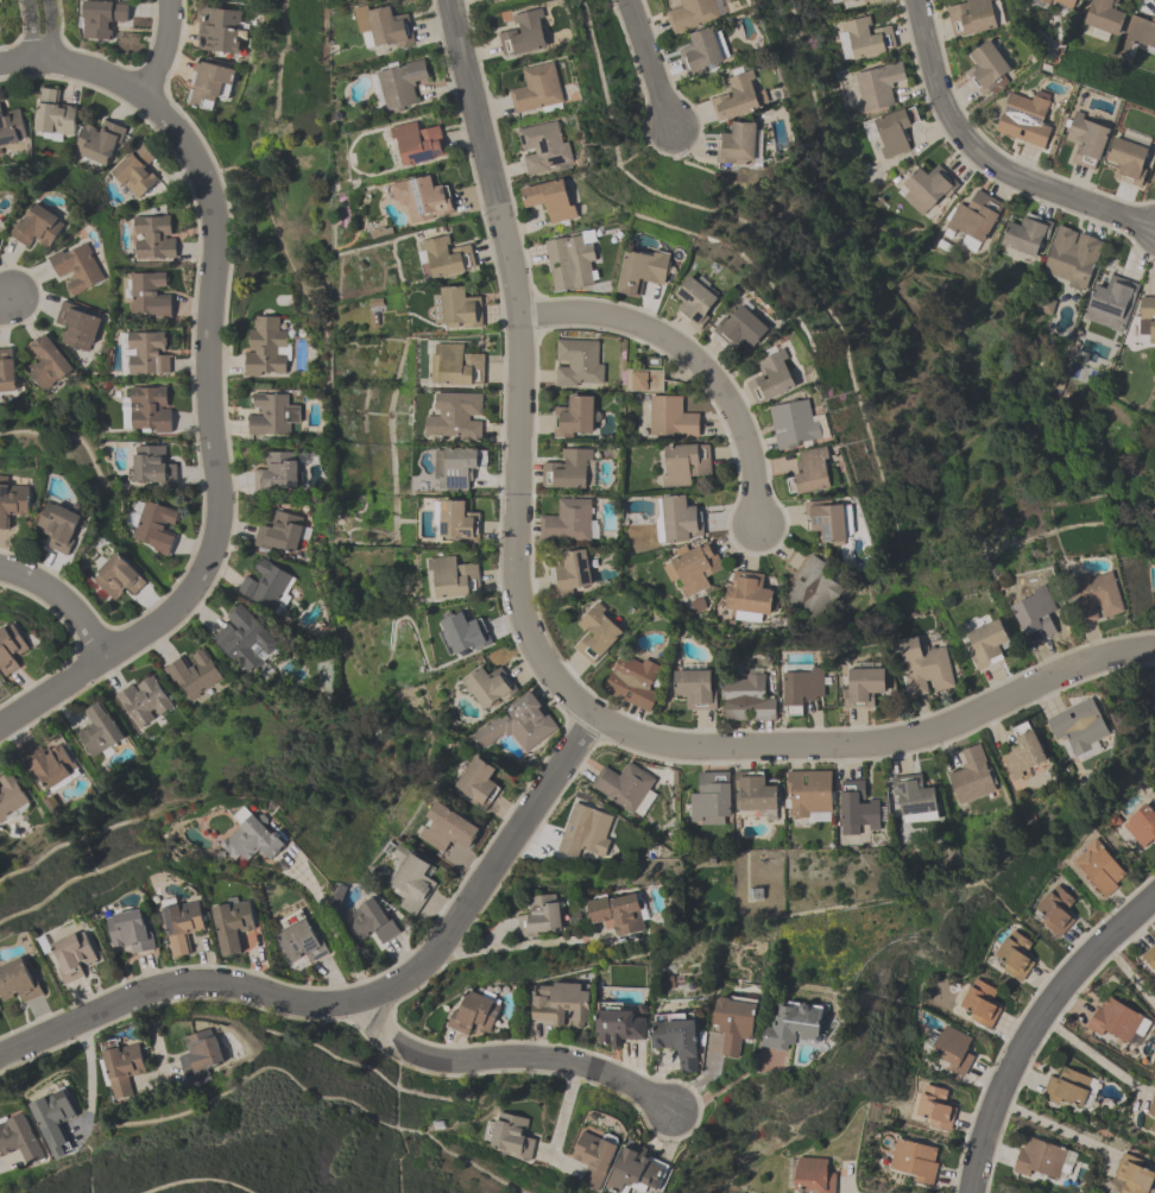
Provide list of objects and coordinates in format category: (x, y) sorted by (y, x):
building: (493, 0)
building: (837, 0)
building: (865, 0)
building: (1043, 1)
building: (1065, 2)
building: (692, 14)
building: (970, 17)
building: (1102, 17)
building: (101, 19)
building: (384, 26)
building: (219, 32)
building: (1137, 33)
building: (523, 34)
building: (863, 38)
road: (163, 50)
building: (700, 53)
road: (20, 59)
road: (648, 63)
building: (986, 70)
building: (877, 84)
building: (208, 86)
building: (399, 86)
building: (536, 89)
building: (734, 99)
building: (52, 113)
building: (1024, 118)
building: (11, 126)
building: (894, 131)
building: (97, 140)
building: (417, 140)
building: (1086, 140)
building: (737, 145)
building: (543, 147)
road: (989, 159)
building: (1125, 162)
building: (134, 170)
building: (1153, 179)
building: (927, 188)
building: (422, 195)
building: (549, 201)
building: (974, 215)
building: (38, 223)
building: (1025, 234)
building: (152, 236)
building: (444, 255)
building: (1071, 257)
building: (569, 261)
building: (77, 265)
building: (640, 273)
building: (149, 295)
road: (6, 298)
building: (694, 303)
building: (1110, 303)
building: (456, 305)
building: (1148, 315)
building: (76, 326)
building: (740, 329)
building: (265, 347)
building: (146, 352)
road: (692, 359)
building: (45, 362)
building: (577, 362)
building: (456, 364)
road: (518, 367)
road: (207, 370)
building: (6, 371)
building: (771, 379)
building: (644, 380)
building: (149, 408)
building: (272, 414)
building: (455, 414)
building: (574, 417)
building: (671, 418)
building: (796, 425)
building: (456, 463)
building: (151, 465)
building: (684, 465)
building: (567, 469)
building: (276, 471)
building: (809, 472)
building: (12, 499)
building: (457, 519)
building: (567, 520)
building: (679, 520)
building: (827, 522)
building: (59, 524)
building: (153, 525)
building: (278, 531)
building: (692, 567)
building: (570, 573)
building: (116, 575)
building: (454, 575)
building: (266, 585)
building: (810, 588)
building: (746, 593)
building: (1094, 596)
road: (62, 600)
building: (1035, 616)
building: (463, 630)
building: (595, 635)
building: (242, 638)
building: (11, 645)
building: (985, 645)
building: (924, 669)
building: (191, 674)
building: (632, 681)
building: (488, 683)
building: (864, 687)
building: (695, 689)
building: (801, 690)
building: (747, 699)
building: (143, 700)
building: (517, 722)
building: (1078, 727)
building: (97, 730)
road: (879, 741)
building: (1022, 753)
building: (48, 763)
building: (971, 777)
building: (478, 781)
building: (621, 784)
building: (753, 793)
building: (808, 793)
building: (10, 795)
building: (913, 796)
building: (711, 797)
building: (856, 808)
building: (1141, 825)
building: (447, 827)
building: (583, 829)
building: (251, 835)
building: (1098, 867)
road: (490, 869)
building: (411, 879)
building: (1054, 910)
building: (618, 911)
building: (539, 914)
building: (368, 921)
building: (179, 922)
building: (232, 922)
building: (131, 928)
road: (332, 928)
building: (301, 941)
road: (512, 947)
building: (74, 953)
building: (1014, 954)
building: (1149, 957)
road: (1128, 973)
building: (18, 978)
road: (176, 983)
building: (561, 1002)
building: (979, 1003)
building: (474, 1011)
building: (0, 1014)
building: (736, 1018)
building: (795, 1020)
building: (1116, 1020)
building: (619, 1024)
road: (1034, 1027)
building: (677, 1035)
building: (952, 1048)
road: (1093, 1055)
building: (198, 1056)
road: (507, 1058)
road: (87, 1062)
building: (120, 1066)
road: (722, 1086)
building: (1067, 1086)
building: (1151, 1105)
building: (934, 1106)
road: (561, 1113)
building: (53, 1118)
road: (1054, 1126)
building: (1153, 1126)
building: (509, 1134)
building: (19, 1137)
building: (593, 1156)
building: (1039, 1157)
building: (914, 1159)
building: (635, 1170)
building: (1134, 1174)
building: (812, 1176)

